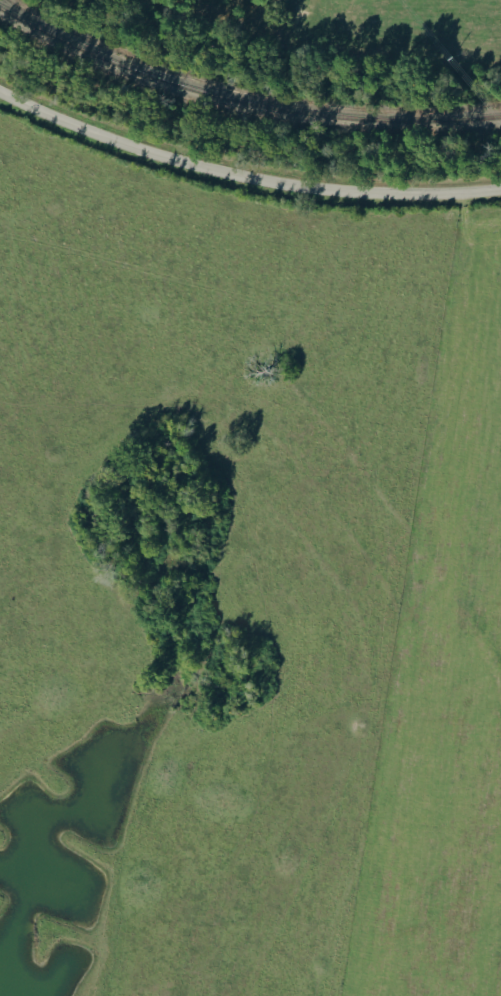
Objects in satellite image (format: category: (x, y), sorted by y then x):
railway: (241, 102)
road: (243, 175)

